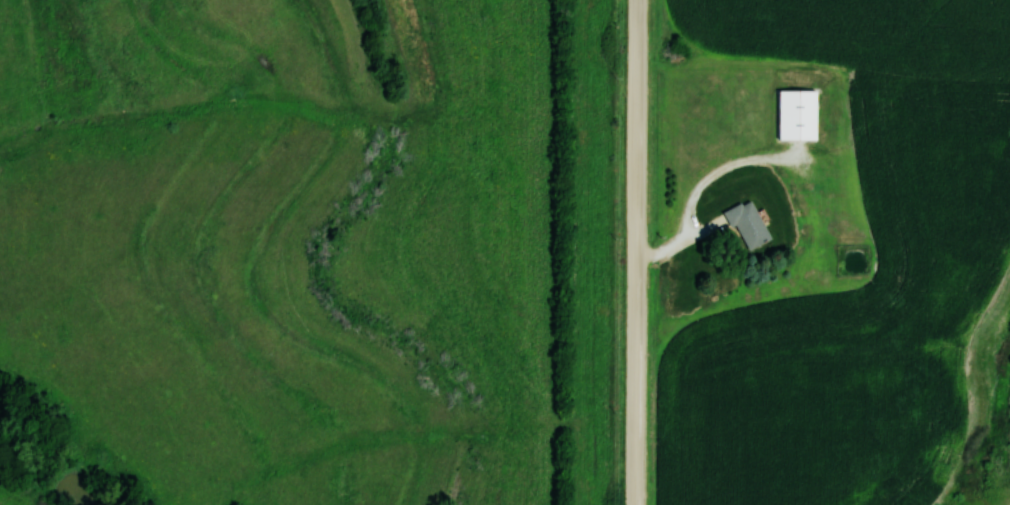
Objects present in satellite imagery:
building: (796, 115)
building: (746, 224)
road: (640, 252)

